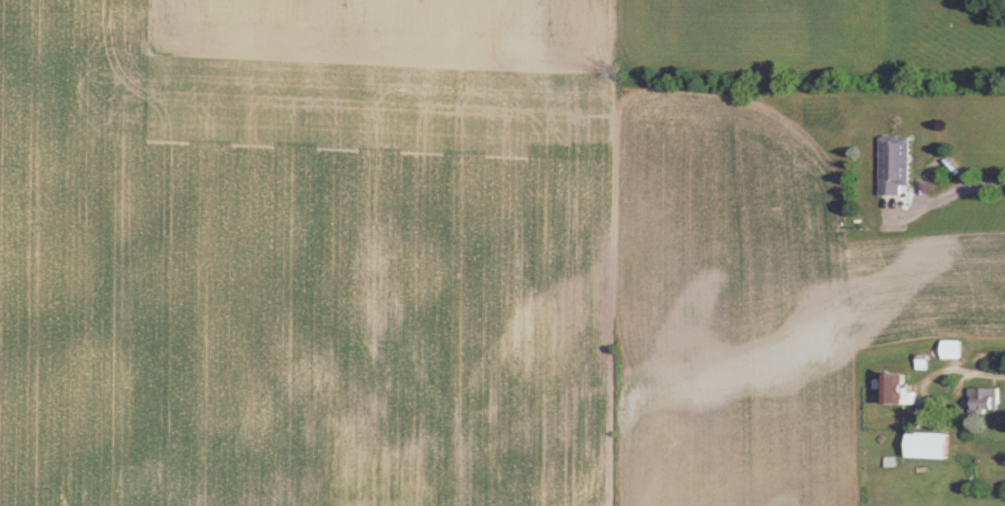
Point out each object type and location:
building: (896, 166)
road: (957, 191)
building: (953, 351)
building: (897, 392)
building: (985, 402)
building: (928, 447)

